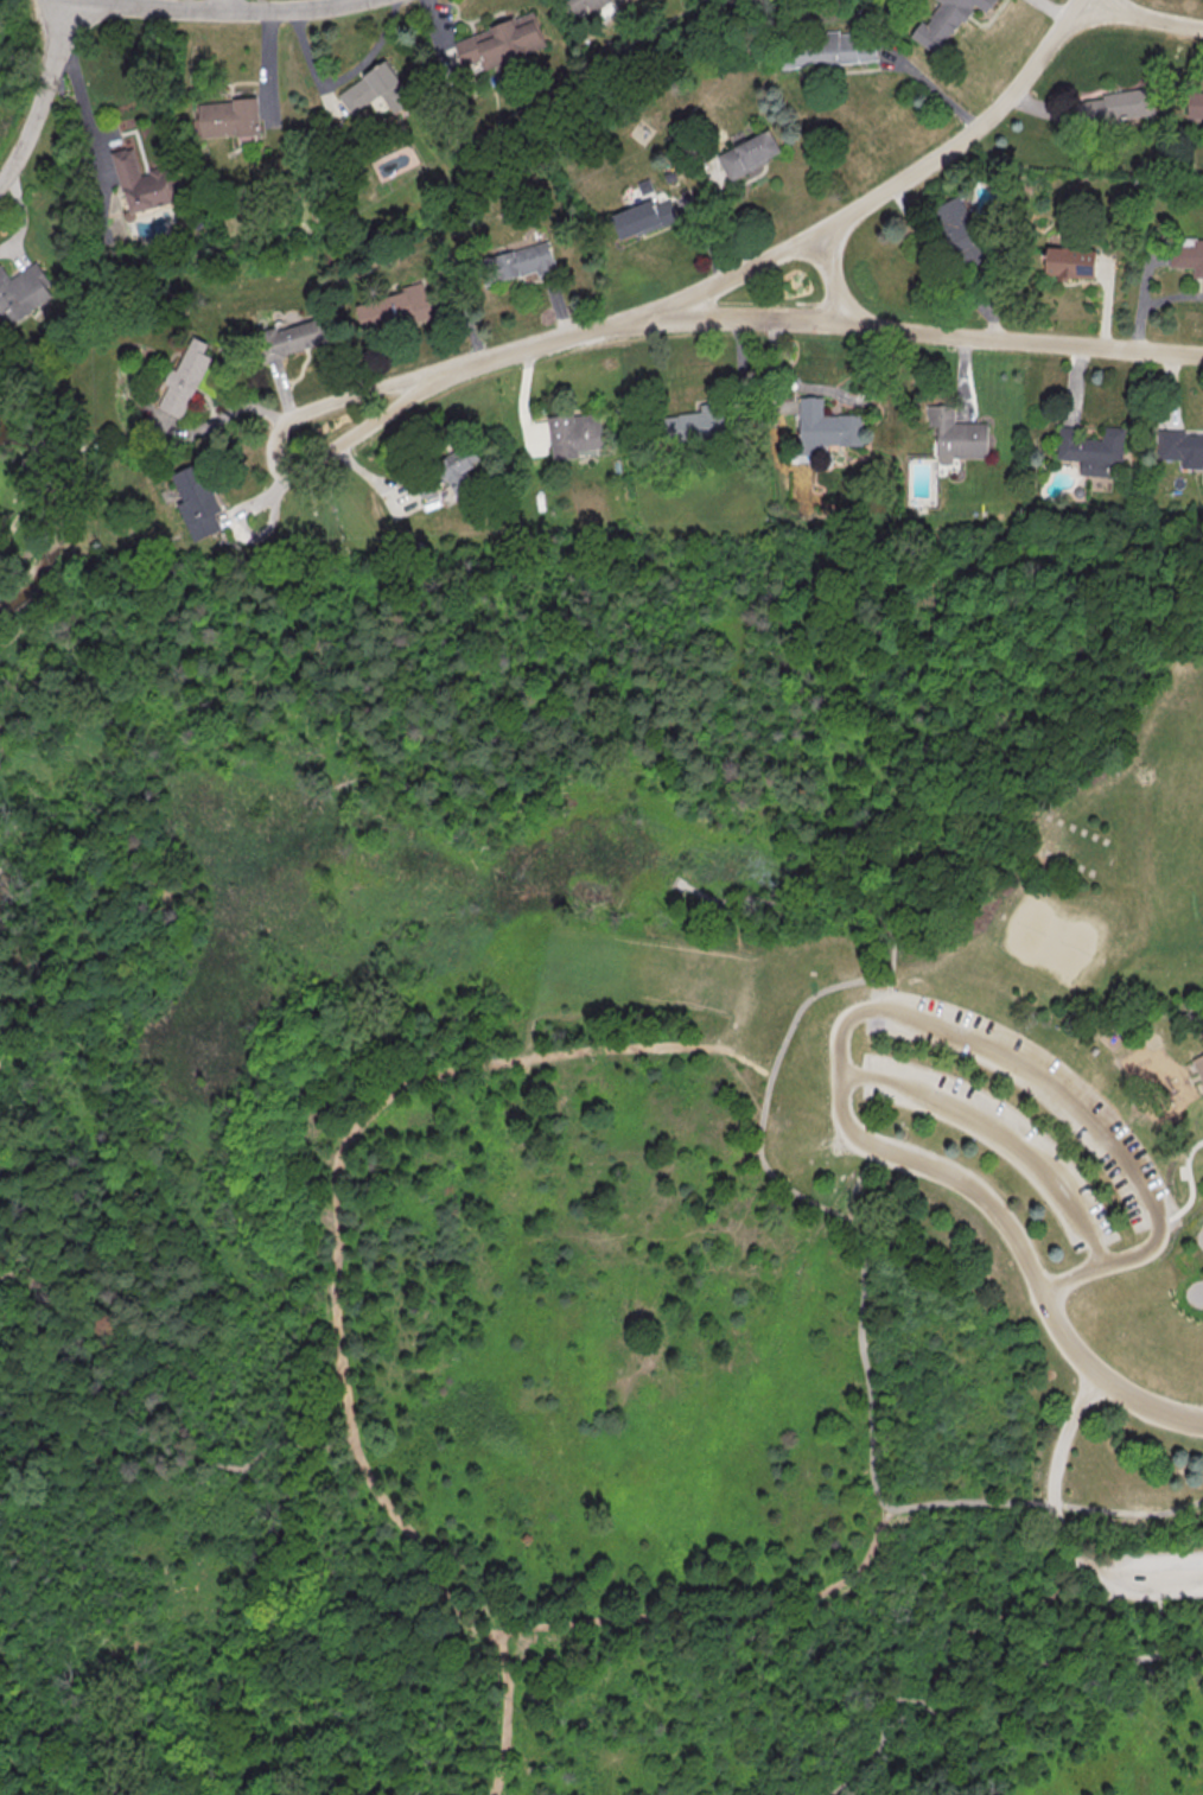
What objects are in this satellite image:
building: (579, 5)
road: (227, 6)
road: (212, 11)
road: (1144, 14)
building: (944, 23)
building: (501, 42)
building: (829, 49)
road: (76, 81)
building: (375, 89)
road: (45, 93)
building: (1195, 102)
building: (1116, 106)
building: (229, 117)
building: (749, 153)
building: (145, 183)
building: (642, 217)
building: (959, 229)
building: (1188, 259)
building: (518, 262)
building: (1069, 262)
road: (940, 263)
road: (738, 276)
road: (830, 279)
building: (23, 292)
building: (395, 308)
road: (938, 331)
building: (293, 338)
building: (185, 378)
road: (241, 410)
building: (696, 424)
building: (826, 426)
building: (956, 434)
building: (1180, 447)
building: (1091, 450)
building: (458, 467)
road: (286, 480)
river: (49, 499)
building: (196, 502)
road: (115, 757)
park: (1069, 845)
road: (930, 872)
road: (133, 873)
road: (861, 874)
park: (1030, 929)
park: (1068, 948)
road: (23, 973)
park: (641, 973)
road: (889, 995)
road: (532, 1032)
road: (839, 1063)
road: (323, 1065)
building: (1198, 1065)
road: (1051, 1083)
parking lot: (1033, 1091)
road: (764, 1099)
road: (1002, 1126)
road: (128, 1135)
parking lot: (995, 1140)
park: (605, 1171)
road: (1186, 1175)
road: (336, 1228)
road: (1199, 1236)
road: (651, 1237)
road: (1099, 1268)
road: (1033, 1273)
road: (50, 1292)
road: (1188, 1292)
river: (39, 1299)
road: (50, 1307)
road: (68, 1307)
road: (305, 1441)
road: (241, 1468)
road: (1052, 1473)
road: (863, 1564)
parking lot: (1146, 1577)
road: (1144, 1578)
road: (989, 1623)
road: (1161, 1627)
road: (984, 1687)
road: (845, 1789)

